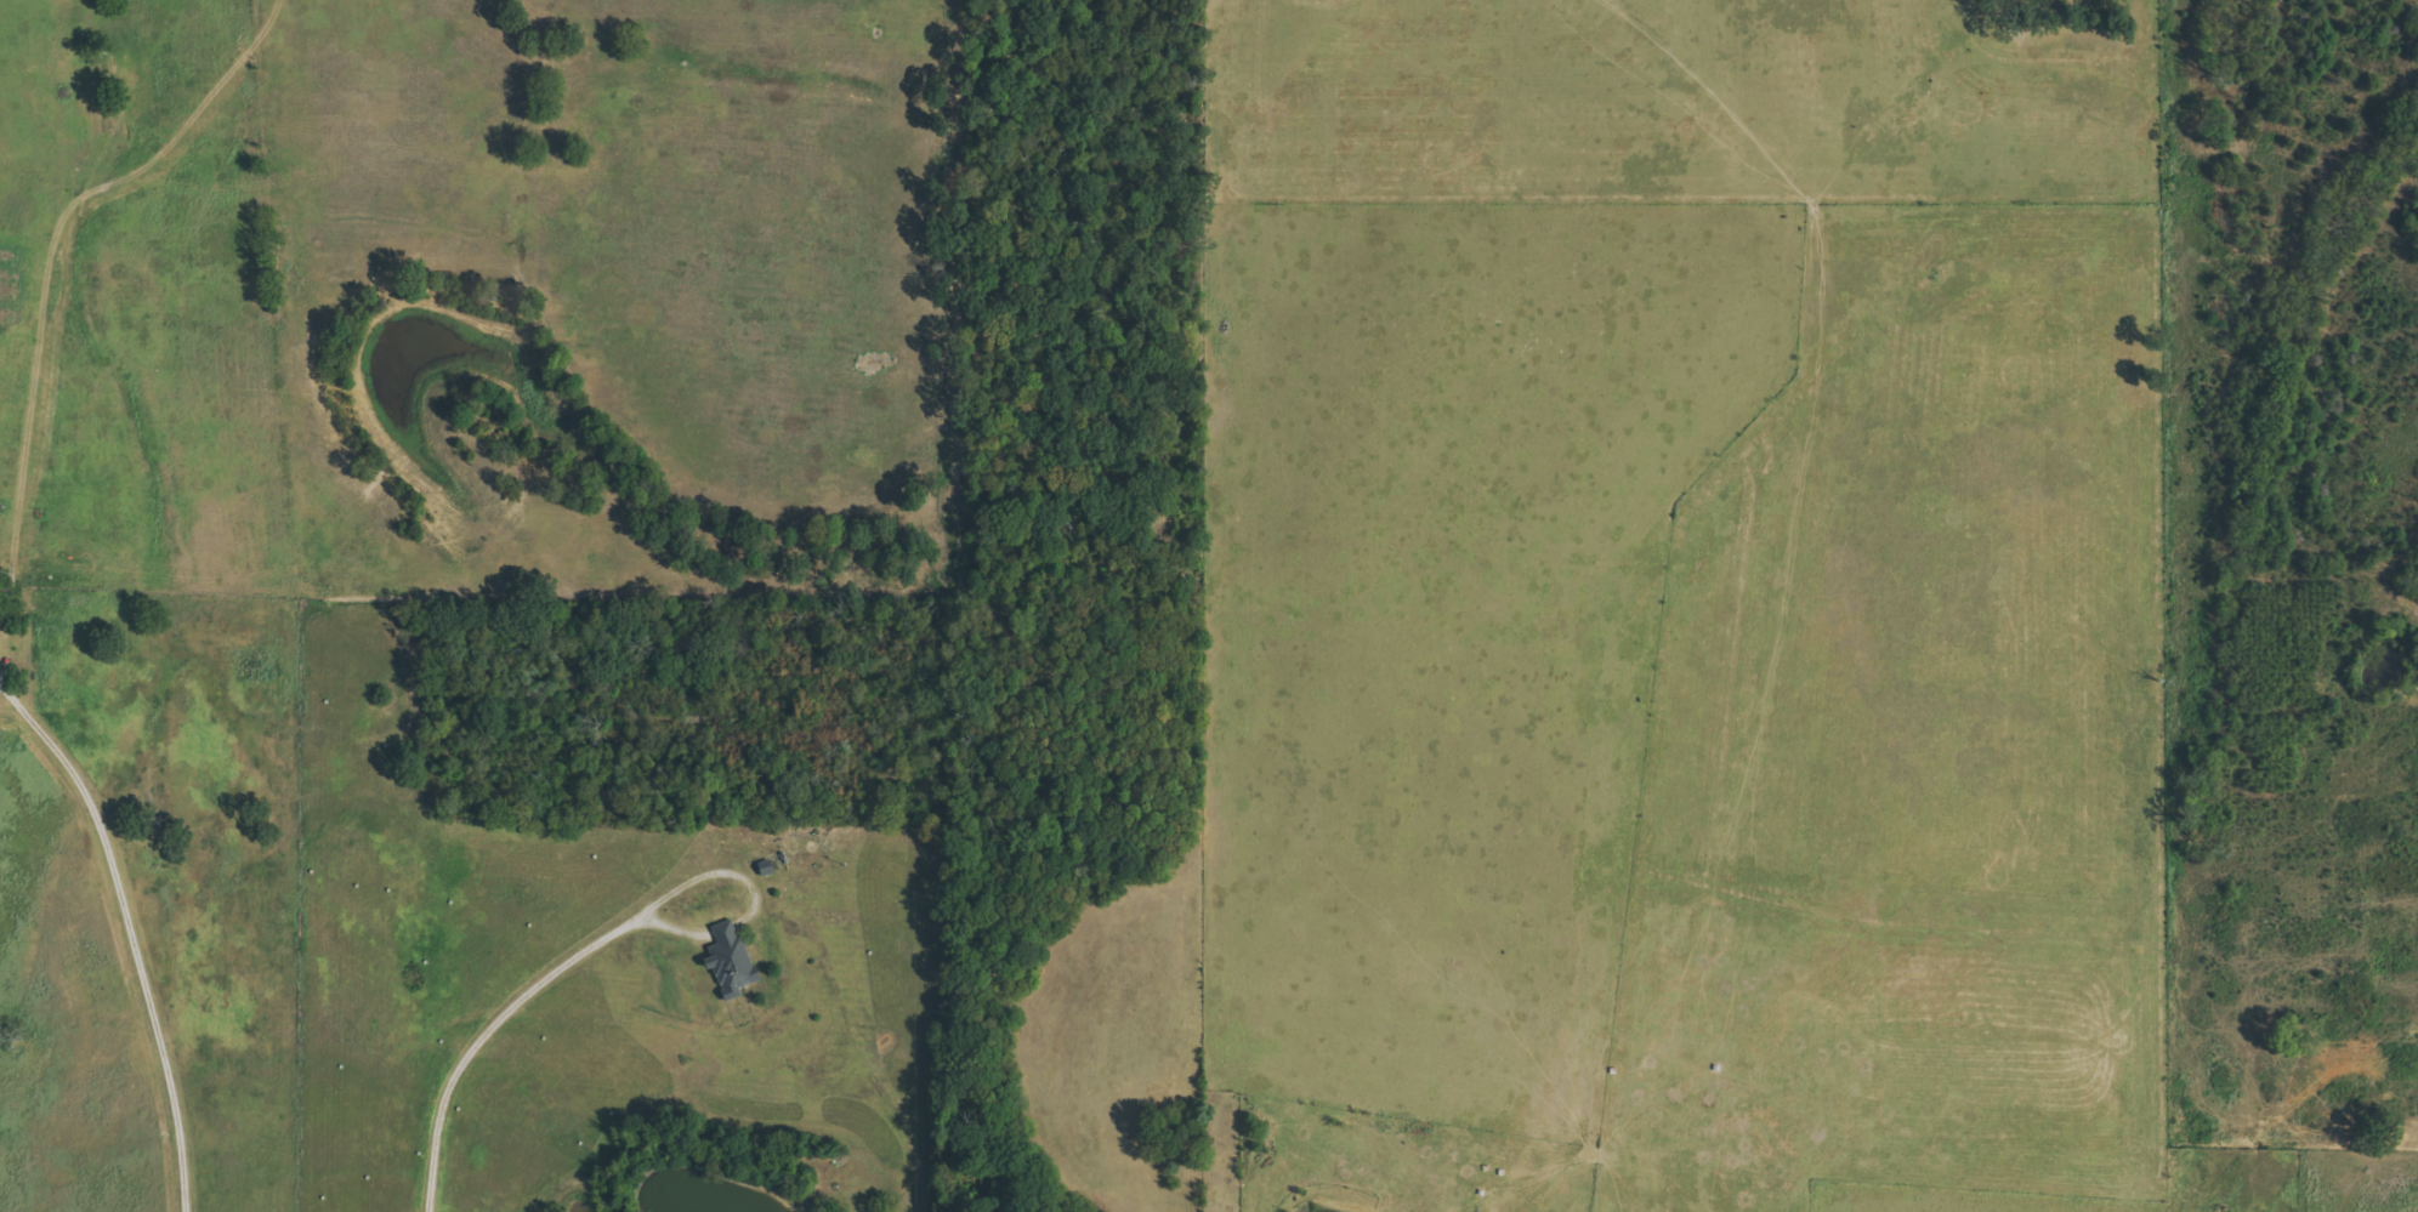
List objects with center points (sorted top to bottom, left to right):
road: (125, 931)
building: (731, 958)
road: (487, 1019)

